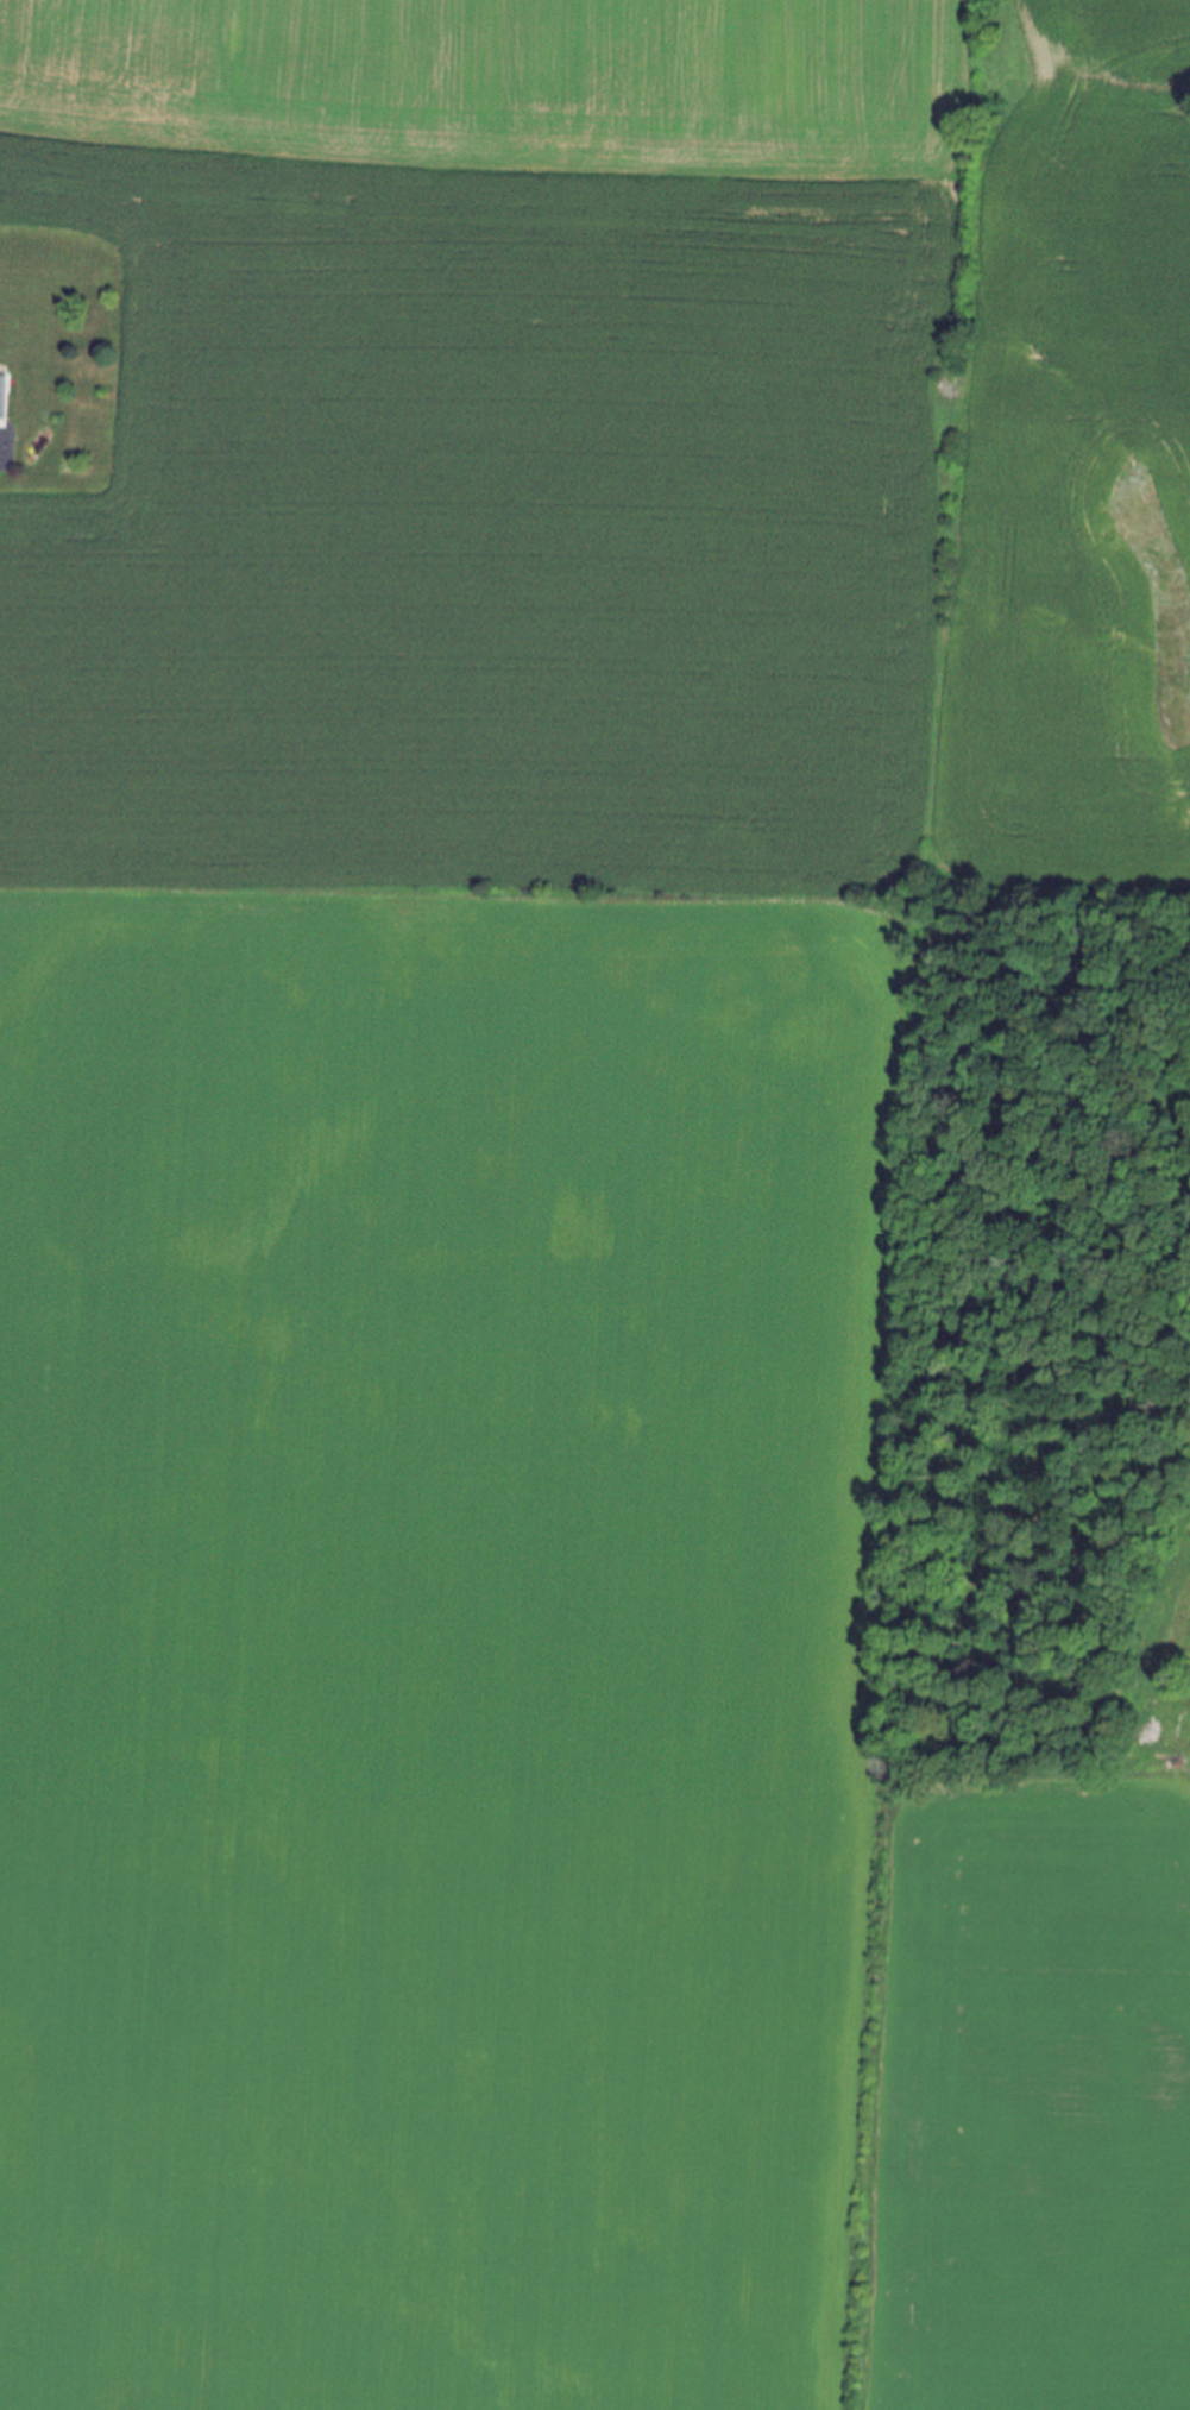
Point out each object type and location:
building: (2, 397)

